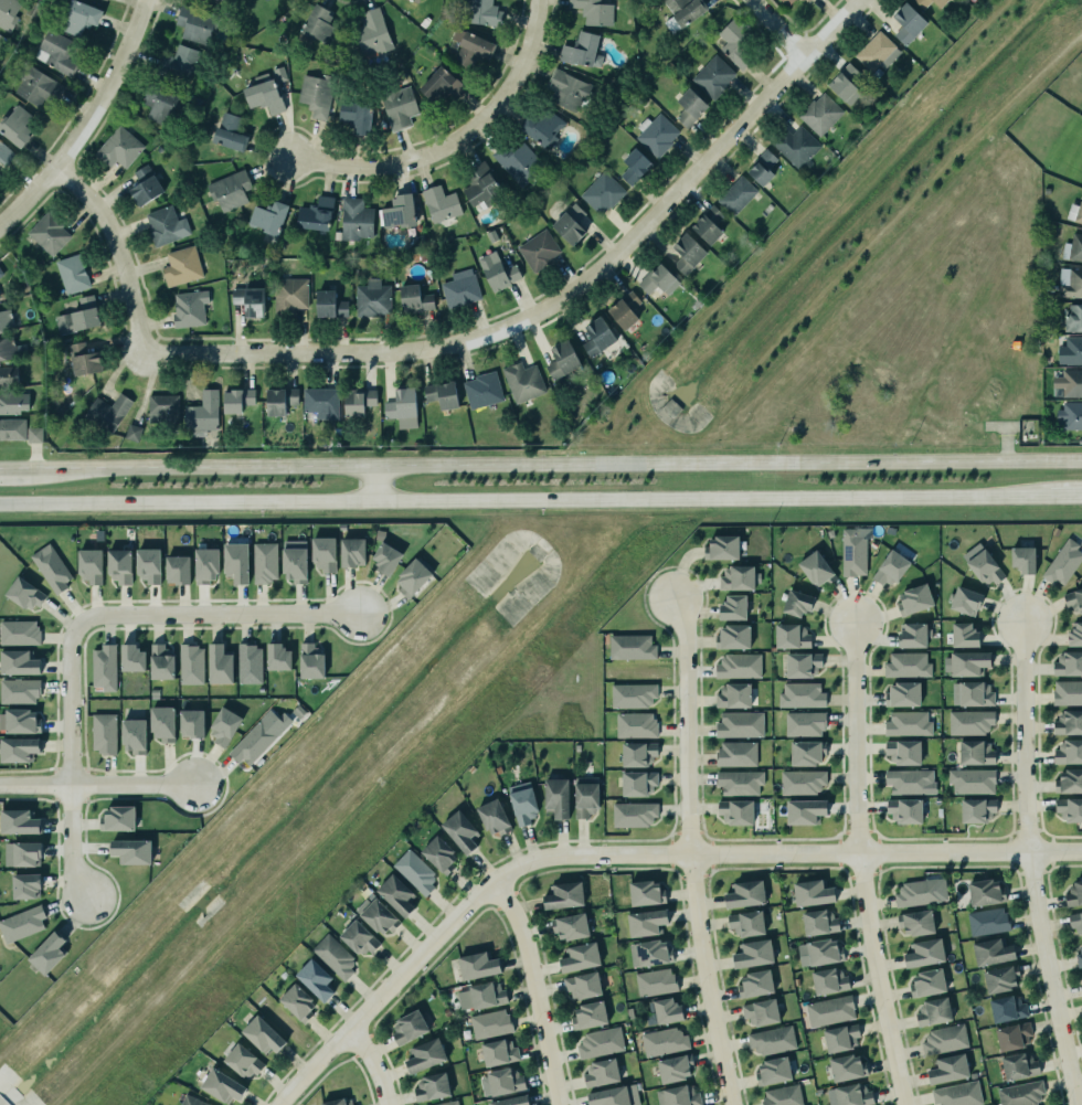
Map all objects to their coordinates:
building: (415, 0)
building: (807, 0)
building: (787, 1)
building: (923, 3)
building: (593, 11)
building: (484, 12)
building: (683, 12)
building: (8, 13)
building: (79, 17)
building: (906, 23)
building: (195, 24)
building: (320, 25)
road: (781, 28)
building: (370, 32)
building: (735, 42)
building: (471, 46)
building: (580, 49)
building: (54, 51)
building: (878, 52)
building: (180, 63)
building: (279, 74)
building: (713, 76)
building: (844, 83)
building: (439, 84)
building: (35, 85)
building: (567, 89)
building: (263, 95)
building: (316, 95)
building: (160, 103)
building: (397, 105)
building: (690, 107)
building: (819, 113)
building: (354, 116)
road: (89, 124)
building: (15, 126)
building: (543, 127)
building: (230, 132)
building: (655, 134)
road: (455, 140)
building: (795, 145)
building: (119, 148)
building: (6, 155)
building: (518, 161)
building: (635, 166)
building: (763, 168)
building: (144, 185)
building: (482, 185)
building: (230, 190)
building: (602, 193)
building: (736, 194)
building: (441, 203)
building: (399, 211)
building: (315, 213)
building: (1078, 213)
building: (268, 216)
building: (353, 219)
building: (569, 224)
building: (707, 224)
building: (165, 225)
building: (49, 233)
building: (1072, 247)
building: (538, 249)
building: (686, 253)
building: (182, 266)
building: (496, 272)
building: (0, 273)
building: (73, 274)
building: (659, 280)
building: (1070, 283)
building: (460, 288)
building: (288, 296)
building: (373, 298)
building: (250, 299)
building: (413, 299)
building: (330, 305)
building: (189, 307)
building: (625, 310)
building: (78, 315)
building: (1073, 317)
building: (6, 320)
building: (597, 336)
road: (468, 340)
building: (11, 350)
building: (1070, 350)
building: (84, 359)
building: (562, 360)
building: (9, 375)
building: (521, 381)
building: (1071, 382)
building: (482, 390)
building: (441, 394)
building: (236, 400)
building: (279, 400)
building: (357, 400)
building: (319, 401)
building: (12, 402)
building: (403, 407)
building: (163, 408)
building: (106, 412)
building: (203, 412)
building: (1070, 415)
building: (11, 428)
building: (134, 433)
building: (34, 434)
road: (555, 463)
road: (14, 467)
road: (374, 482)
road: (1069, 493)
road: (528, 498)
building: (721, 548)
building: (855, 551)
building: (352, 552)
building: (323, 553)
building: (385, 559)
building: (1022, 560)
building: (235, 562)
building: (265, 562)
building: (89, 563)
building: (1063, 563)
building: (147, 564)
building: (294, 564)
building: (50, 565)
building: (118, 565)
building: (206, 565)
building: (892, 567)
building: (985, 567)
building: (176, 570)
building: (817, 570)
building: (412, 577)
building: (736, 577)
building: (25, 594)
building: (913, 599)
building: (1073, 599)
building: (966, 601)
building: (795, 603)
building: (732, 607)
road: (218, 615)
building: (19, 633)
building: (912, 635)
building: (965, 635)
building: (792, 636)
building: (1074, 636)
building: (732, 637)
building: (629, 647)
building: (277, 657)
building: (130, 658)
building: (159, 661)
building: (310, 661)
building: (19, 662)
building: (191, 663)
building: (248, 663)
building: (966, 663)
building: (1068, 663)
building: (220, 665)
building: (803, 665)
building: (905, 665)
building: (739, 666)
building: (103, 667)
building: (19, 691)
building: (1067, 692)
building: (630, 694)
building: (901, 694)
building: (974, 694)
building: (733, 695)
building: (802, 695)
building: (190, 719)
building: (18, 721)
building: (968, 721)
building: (1068, 722)
building: (161, 723)
building: (805, 723)
building: (906, 723)
building: (635, 724)
building: (738, 724)
building: (223, 725)
building: (103, 733)
building: (132, 735)
building: (256, 737)
building: (1070, 747)
building: (17, 748)
building: (904, 752)
building: (807, 753)
building: (974, 753)
building: (636, 754)
building: (736, 754)
road: (70, 761)
building: (1069, 777)
building: (911, 780)
building: (973, 780)
building: (740, 782)
building: (803, 782)
building: (639, 783)
road: (97, 785)
building: (555, 797)
building: (584, 798)
building: (523, 803)
building: (977, 809)
building: (1070, 809)
building: (904, 810)
building: (735, 811)
building: (806, 811)
building: (632, 814)
building: (491, 817)
building: (117, 818)
building: (19, 821)
building: (459, 831)
building: (130, 851)
building: (436, 851)
road: (688, 851)
building: (21, 853)
road: (629, 856)
road: (1027, 864)
road: (859, 865)
building: (415, 872)
building: (26, 885)
building: (813, 892)
building: (916, 892)
building: (983, 892)
building: (645, 893)
building: (1074, 893)
building: (396, 894)
building: (744, 894)
building: (564, 895)
building: (378, 915)
building: (646, 918)
building: (987, 921)
building: (1075, 921)
building: (818, 922)
building: (745, 923)
building: (916, 923)
building: (22, 924)
building: (570, 926)
building: (358, 938)
building: (818, 952)
building: (990, 952)
building: (49, 953)
building: (648, 953)
building: (923, 953)
building: (754, 954)
building: (1079, 955)
building: (333, 956)
building: (579, 957)
building: (476, 966)
building: (1001, 978)
building: (314, 979)
building: (827, 980)
building: (654, 981)
building: (755, 982)
building: (926, 982)
building: (583, 985)
road: (535, 988)
building: (480, 996)
building: (296, 1002)
building: (1006, 1009)
building: (666, 1010)
building: (828, 1010)
building: (760, 1011)
building: (934, 1011)
building: (588, 1014)
building: (490, 1023)
building: (407, 1028)
building: (262, 1035)
building: (1014, 1037)
building: (841, 1038)
building: (771, 1039)
building: (943, 1039)
building: (662, 1041)
building: (598, 1042)
building: (424, 1051)
building: (499, 1052)
building: (241, 1061)
road: (373, 1063)
building: (673, 1063)
building: (1018, 1066)
building: (848, 1067)
building: (947, 1070)
building: (773, 1071)
building: (600, 1072)
building: (502, 1082)
building: (222, 1085)
building: (432, 1087)
building: (672, 1093)
building: (1020, 1093)
building: (956, 1094)
building: (782, 1095)
building: (852, 1095)
building: (613, 1096)
building: (192, 1101)
building: (511, 1101)
building: (337, 1102)
building: (446, 1103)

